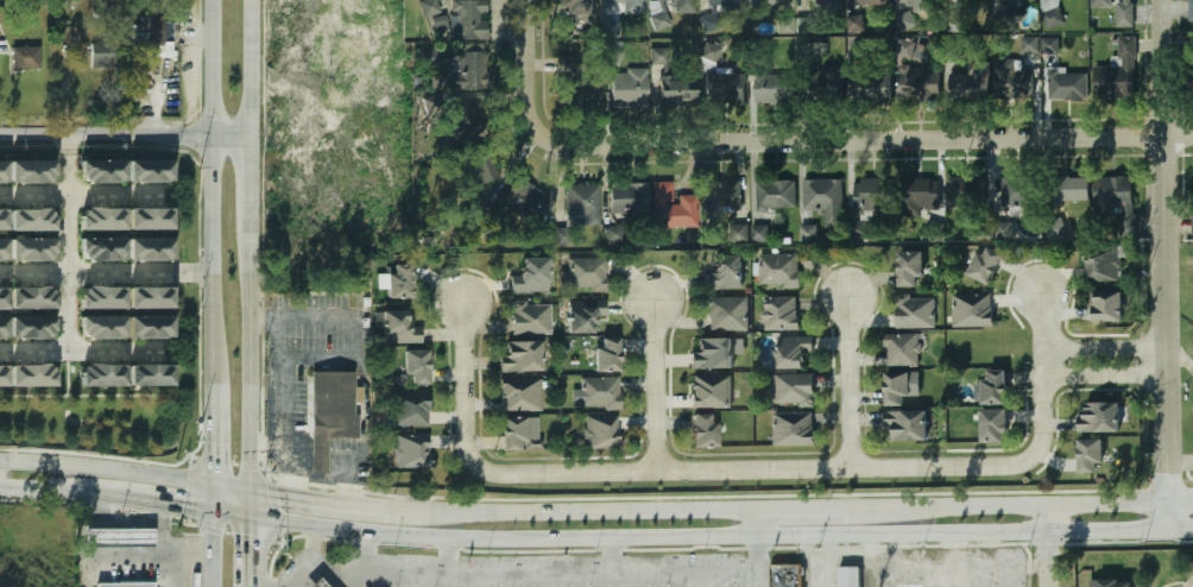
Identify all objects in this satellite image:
building: (766, 1)
building: (1015, 1)
building: (724, 2)
building: (866, 2)
building: (917, 2)
building: (967, 2)
building: (629, 5)
building: (828, 5)
building: (579, 6)
building: (676, 6)
building: (429, 7)
building: (1191, 10)
building: (1117, 11)
building: (1050, 13)
building: (465, 20)
building: (907, 20)
road: (529, 21)
building: (856, 24)
building: (806, 25)
building: (611, 26)
building: (156, 38)
building: (1030, 44)
building: (1049, 45)
building: (708, 53)
building: (101, 55)
building: (659, 55)
building: (25, 58)
road: (250, 67)
building: (1191, 67)
building: (461, 71)
building: (1117, 74)
building: (577, 78)
building: (827, 82)
building: (920, 84)
building: (1016, 84)
building: (871, 86)
building: (1067, 86)
building: (726, 88)
building: (978, 88)
building: (774, 89)
building: (629, 90)
building: (677, 90)
building: (433, 106)
building: (465, 121)
road: (125, 133)
road: (819, 141)
road: (64, 144)
building: (476, 166)
building: (2, 170)
building: (31, 170)
building: (151, 170)
building: (105, 171)
road: (248, 182)
building: (1066, 189)
building: (965, 191)
building: (1017, 192)
road: (81, 195)
building: (775, 195)
building: (727, 196)
road: (210, 197)
building: (872, 197)
building: (922, 197)
building: (822, 198)
building: (627, 200)
building: (582, 201)
building: (1116, 201)
building: (526, 202)
building: (1192, 204)
building: (476, 207)
building: (665, 208)
building: (152, 217)
building: (4, 219)
building: (102, 219)
building: (34, 220)
building: (1005, 229)
building: (1054, 229)
building: (757, 232)
building: (614, 234)
building: (737, 234)
building: (807, 234)
building: (4, 248)
building: (32, 248)
building: (102, 248)
building: (152, 248)
road: (64, 253)
building: (985, 264)
building: (1102, 264)
road: (1166, 265)
building: (909, 269)
building: (777, 271)
building: (725, 272)
road: (86, 273)
road: (191, 273)
building: (585, 273)
building: (530, 277)
building: (400, 282)
building: (4, 297)
building: (32, 297)
building: (105, 297)
building: (153, 298)
building: (1107, 305)
building: (971, 310)
building: (914, 313)
building: (585, 314)
building: (778, 314)
building: (726, 315)
building: (530, 318)
building: (4, 327)
building: (32, 327)
building: (103, 327)
building: (153, 327)
building: (399, 328)
building: (901, 349)
building: (793, 351)
road: (1104, 351)
road: (81, 353)
building: (714, 353)
building: (607, 355)
building: (522, 356)
road: (247, 360)
building: (416, 366)
road: (1041, 373)
building: (32, 374)
road: (68, 374)
building: (103, 374)
building: (150, 374)
building: (4, 375)
road: (1104, 377)
road: (277, 383)
road: (848, 384)
road: (654, 385)
building: (995, 387)
building: (897, 389)
building: (793, 390)
building: (711, 392)
building: (599, 393)
building: (519, 395)
building: (330, 404)
building: (408, 411)
building: (1099, 418)
road: (171, 424)
building: (907, 424)
building: (993, 427)
building: (703, 430)
building: (793, 430)
building: (601, 433)
building: (517, 435)
road: (212, 438)
building: (411, 452)
building: (317, 453)
building: (1090, 456)
traffic signals: (213, 457)
road: (1180, 463)
road: (5, 465)
road: (292, 469)
road: (112, 471)
road: (670, 472)
road: (335, 478)
road: (5, 484)
road: (46, 490)
traffic signals: (273, 494)
road: (212, 497)
road: (165, 503)
road: (246, 503)
road: (345, 503)
road: (1048, 504)
traffic signals: (196, 507)
road: (829, 507)
road: (616, 509)
road: (755, 522)
road: (100, 525)
road: (128, 528)
road: (158, 529)
traffic signals: (246, 534)
road: (719, 536)
building: (116, 538)
gas station: (116, 538)
road: (1047, 545)
road: (311, 547)
road: (212, 548)
road: (905, 550)
road: (951, 550)
road: (990, 550)
road: (246, 551)
road: (154, 556)
road: (447, 556)
road: (842, 556)
road: (356, 558)
road: (756, 561)
road: (806, 561)
road: (962, 567)
road: (879, 570)
road: (177, 572)
road: (815, 572)
road: (519, 575)
building: (783, 575)
building: (846, 575)
road: (645, 580)
road: (684, 580)
road: (724, 580)
road: (414, 581)
road: (455, 581)
road: (494, 581)
road: (531, 581)
road: (569, 581)
road: (607, 581)
building: (315, 583)
building: (1113, 583)
building: (124, 585)

